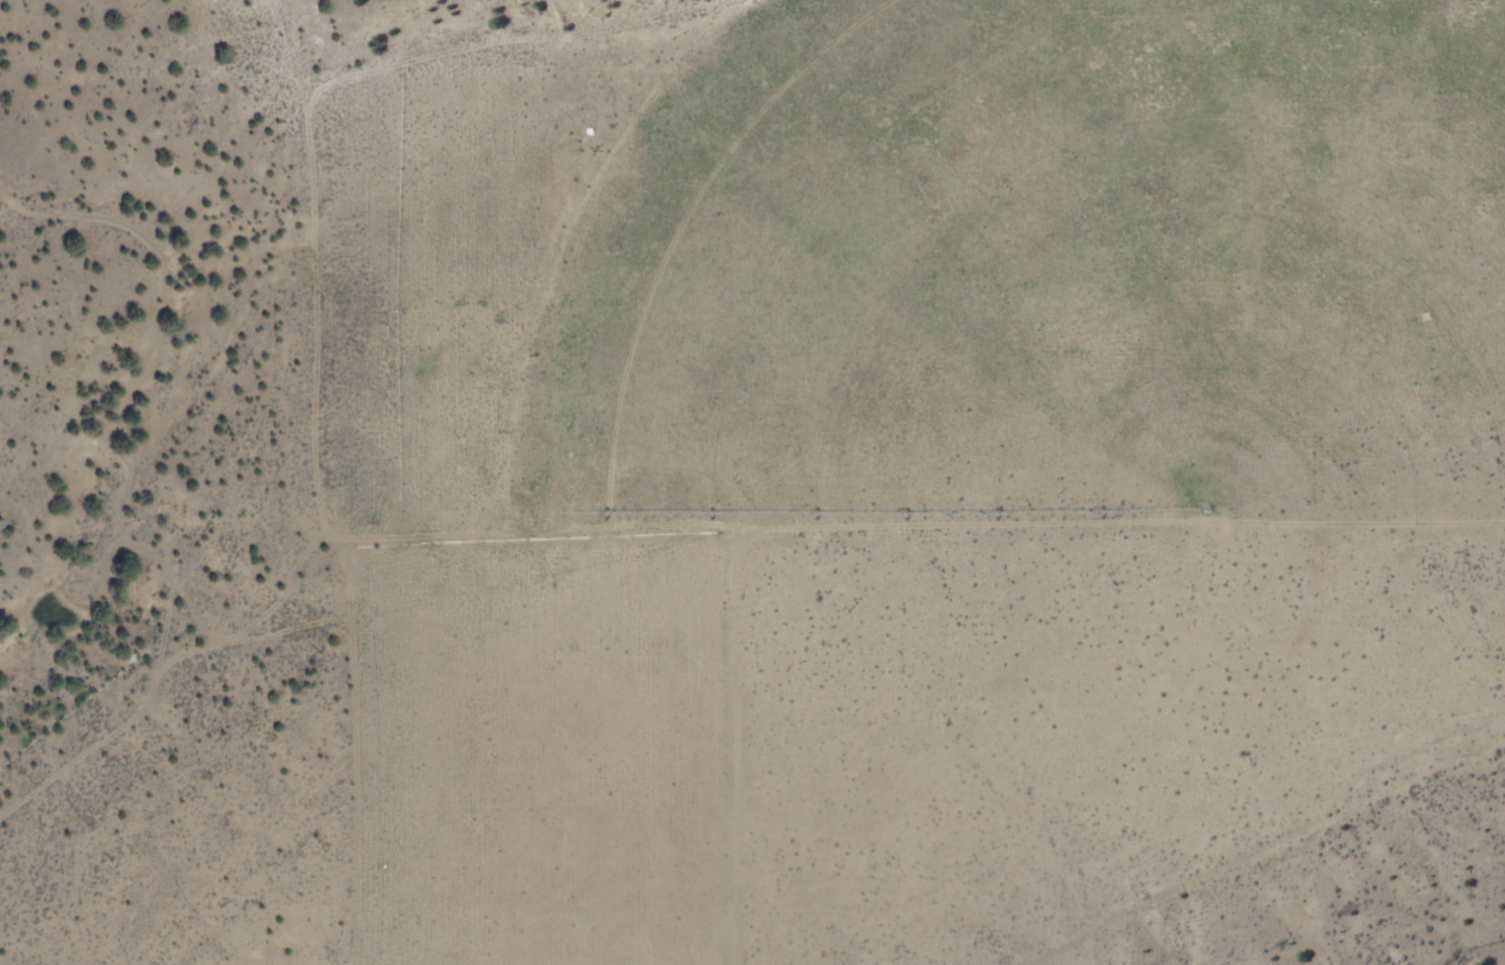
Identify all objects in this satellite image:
crop: (838, 497)

